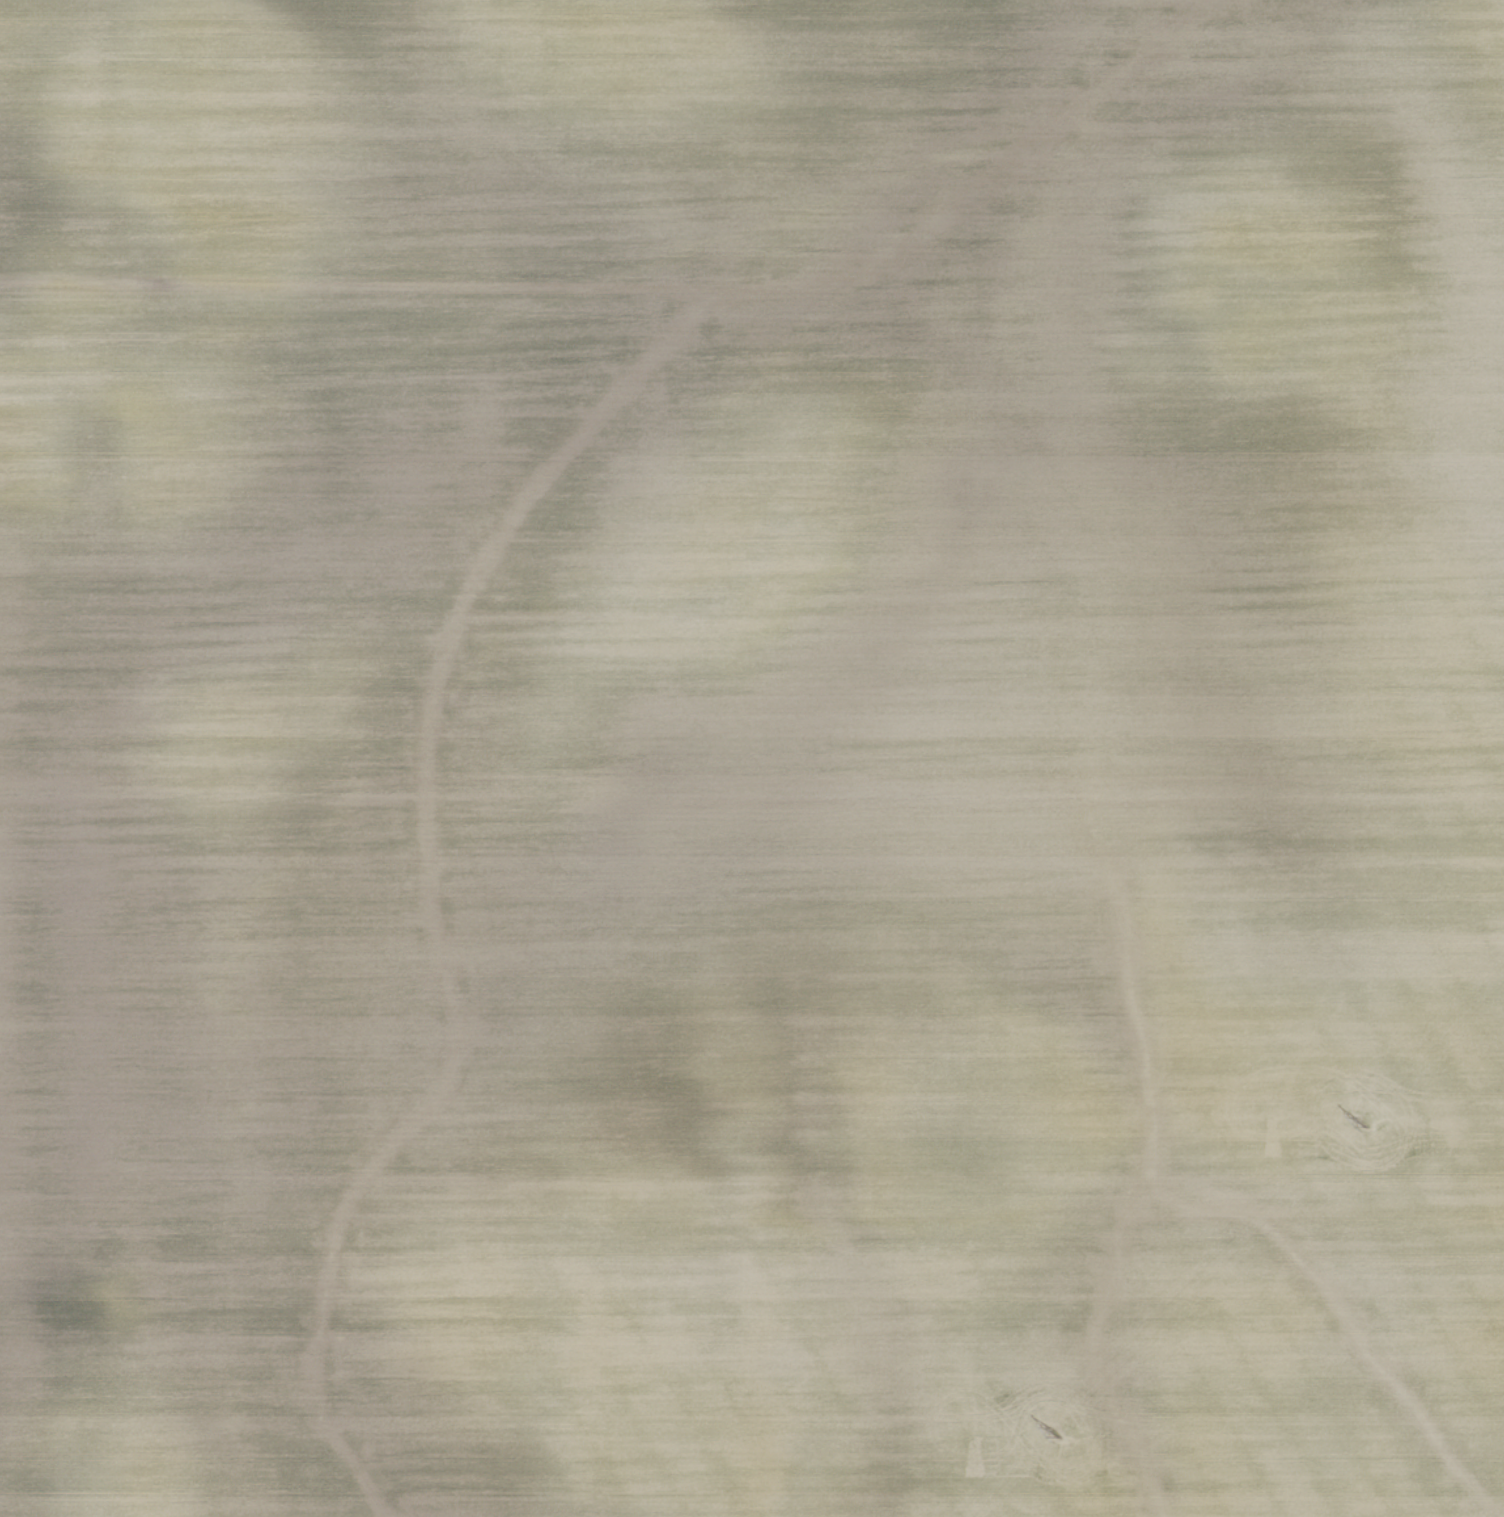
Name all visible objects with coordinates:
power tower: (1363, 1121)
power tower: (1054, 1429)

